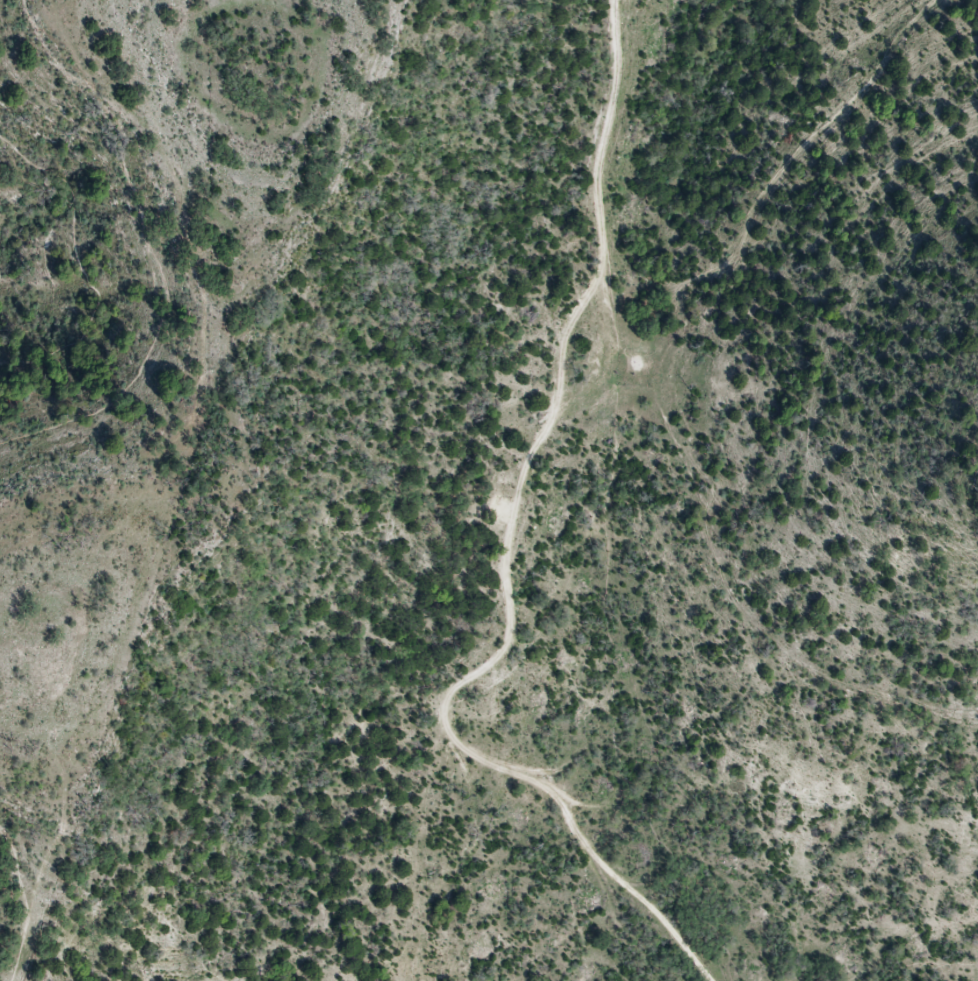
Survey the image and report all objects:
road: (46, 240)
road: (146, 250)
road: (21, 888)
road: (41, 892)
road: (15, 967)

